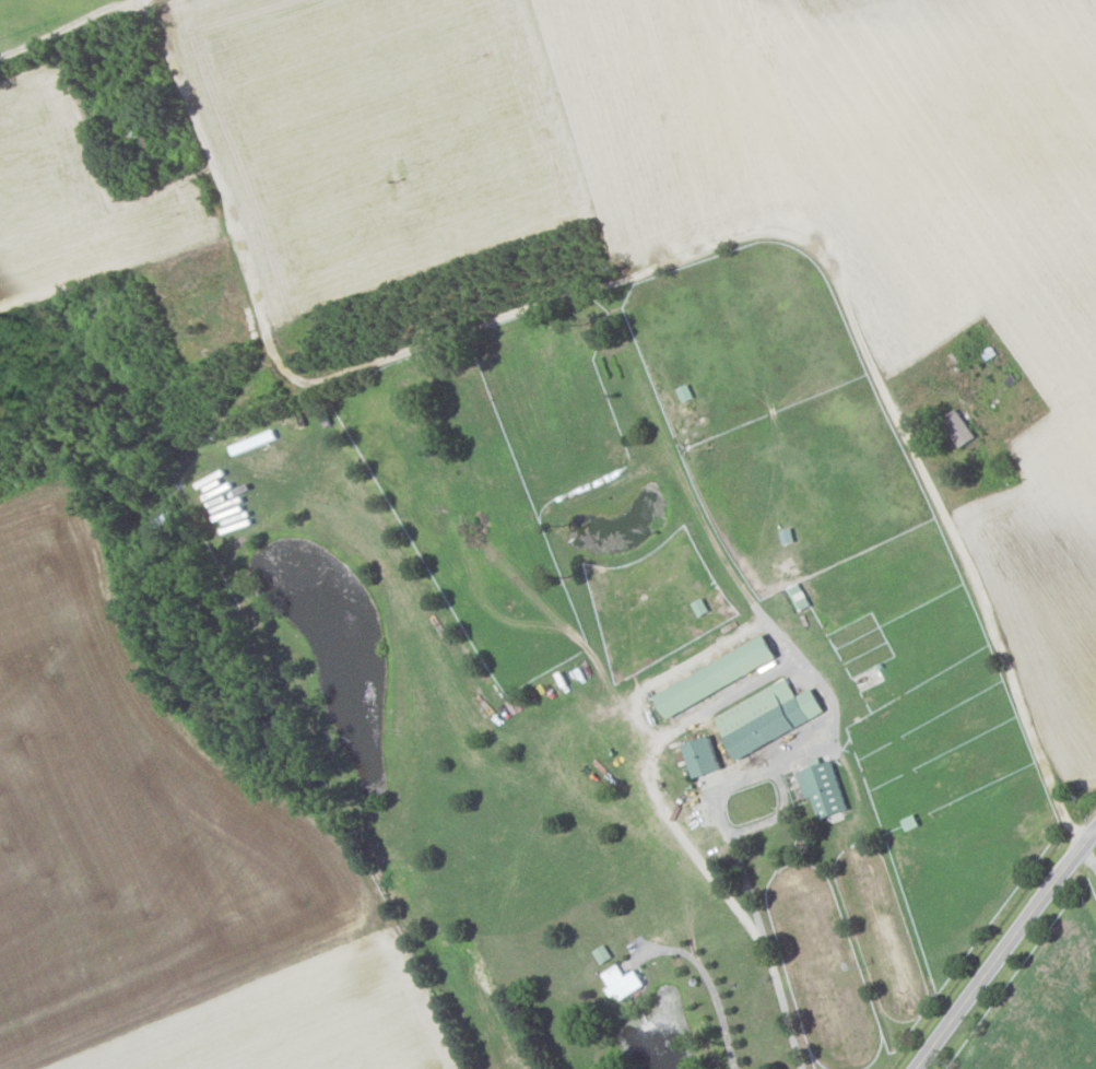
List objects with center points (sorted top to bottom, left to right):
road: (140, 1)
road: (69, 28)
road: (662, 269)
building: (956, 427)
road: (150, 449)
road: (782, 667)
building: (715, 676)
building: (766, 716)
building: (700, 755)
building: (822, 788)
road: (1005, 951)
building: (601, 953)
building: (620, 980)
road: (711, 987)
road: (783, 1006)

